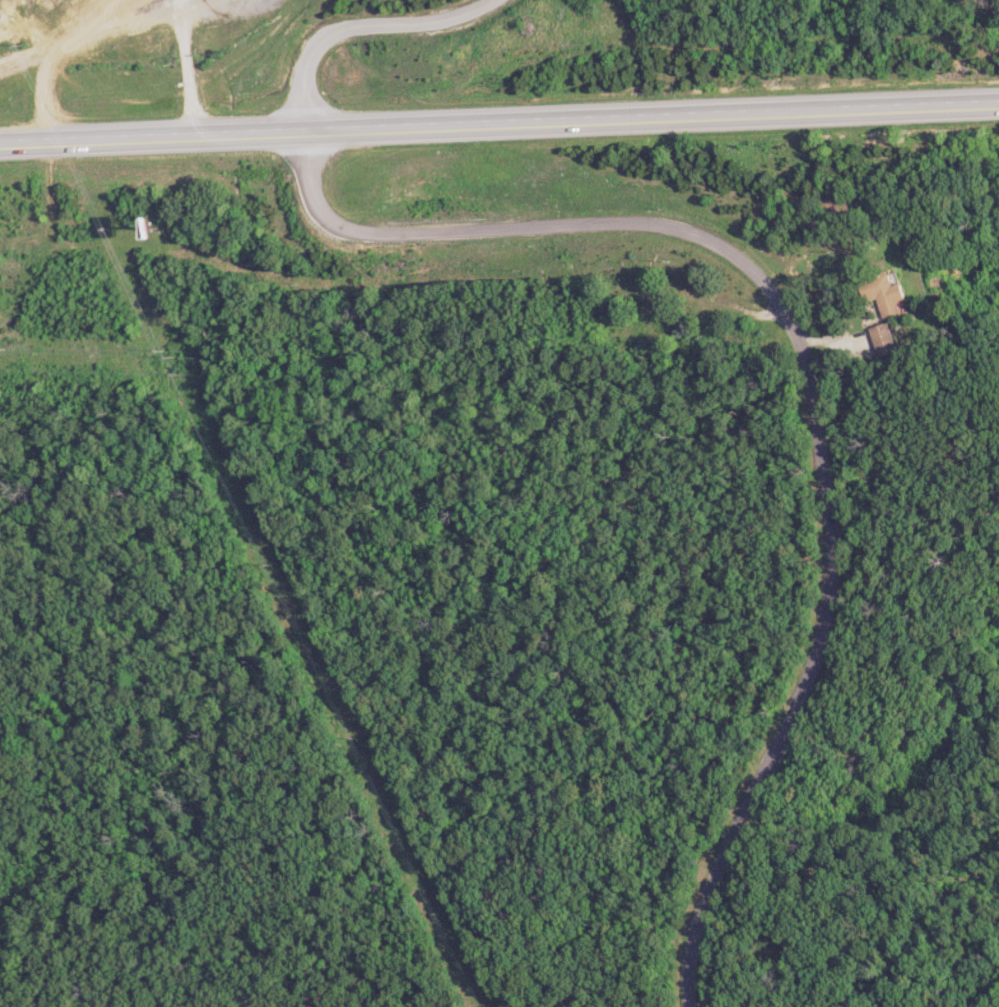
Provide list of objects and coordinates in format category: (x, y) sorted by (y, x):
road: (353, 25)
road: (499, 121)
building: (893, 296)
building: (887, 339)
road: (812, 377)

